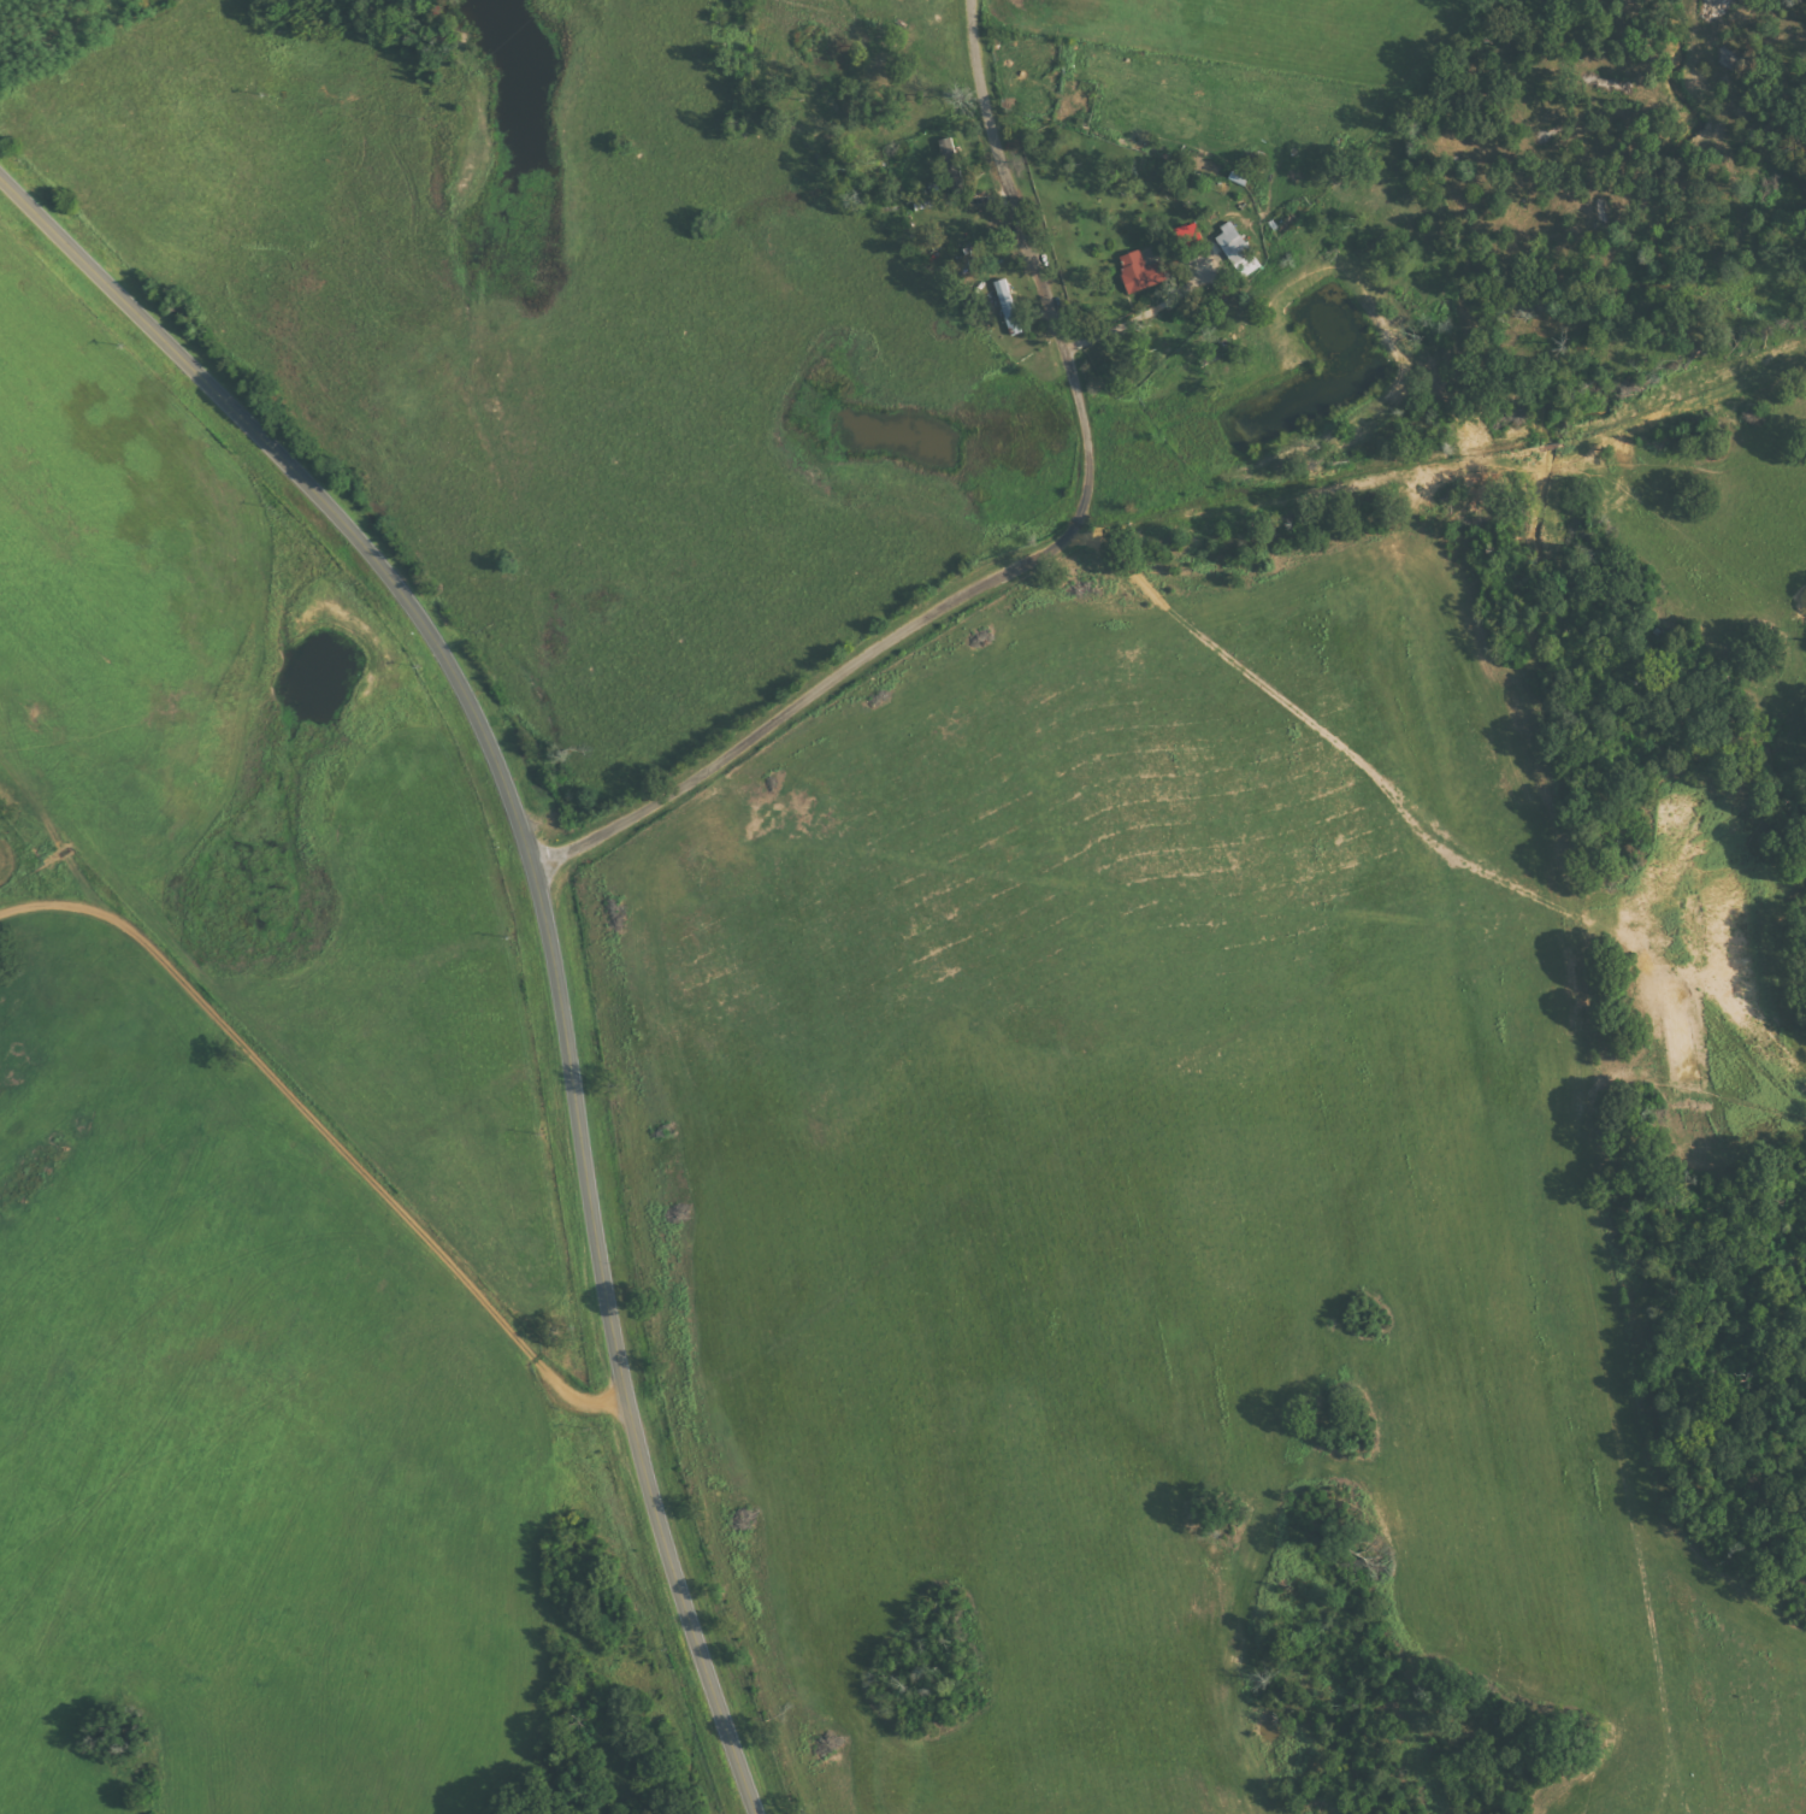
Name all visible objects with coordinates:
building: (1185, 238)
building: (1234, 251)
building: (1138, 272)
road: (1037, 556)
road: (544, 911)
road: (330, 1184)

